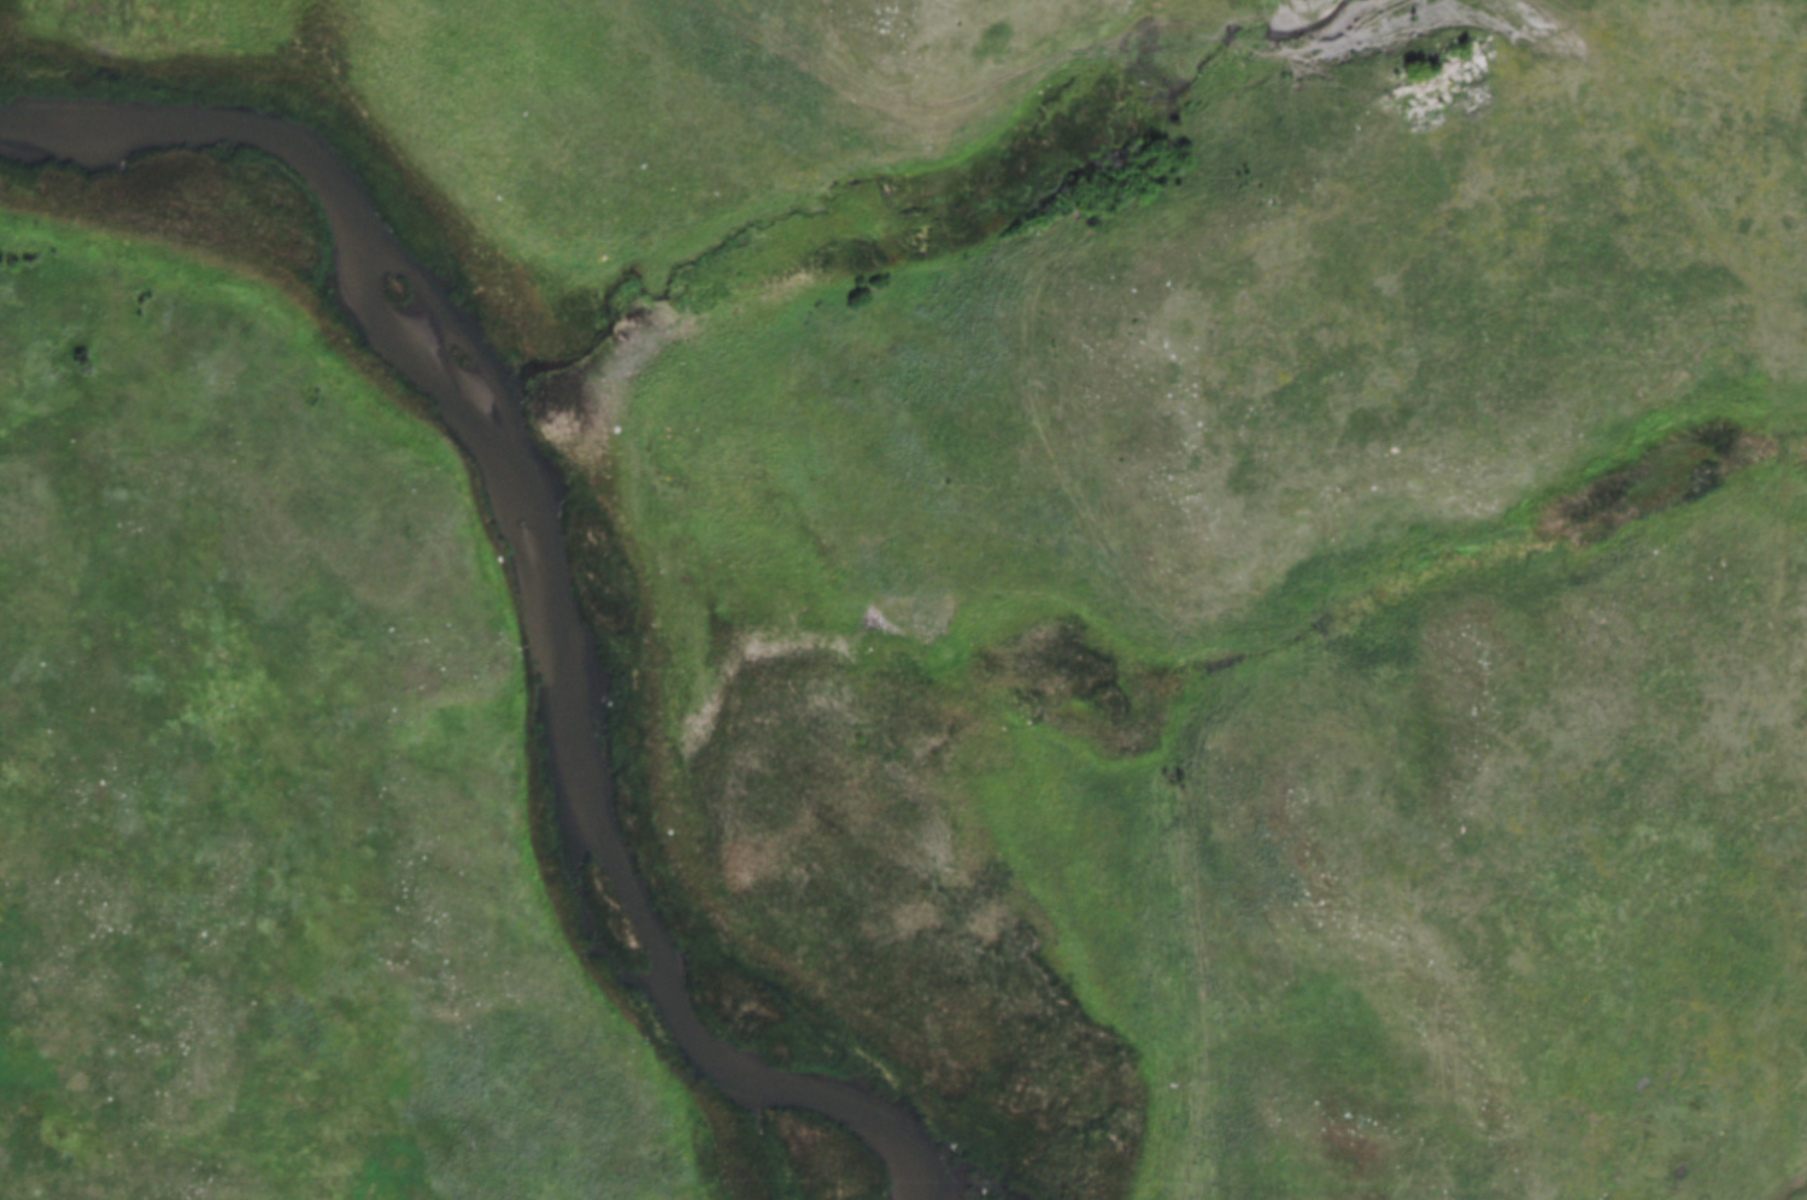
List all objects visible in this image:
road: (1644, 141)
road: (1779, 484)

